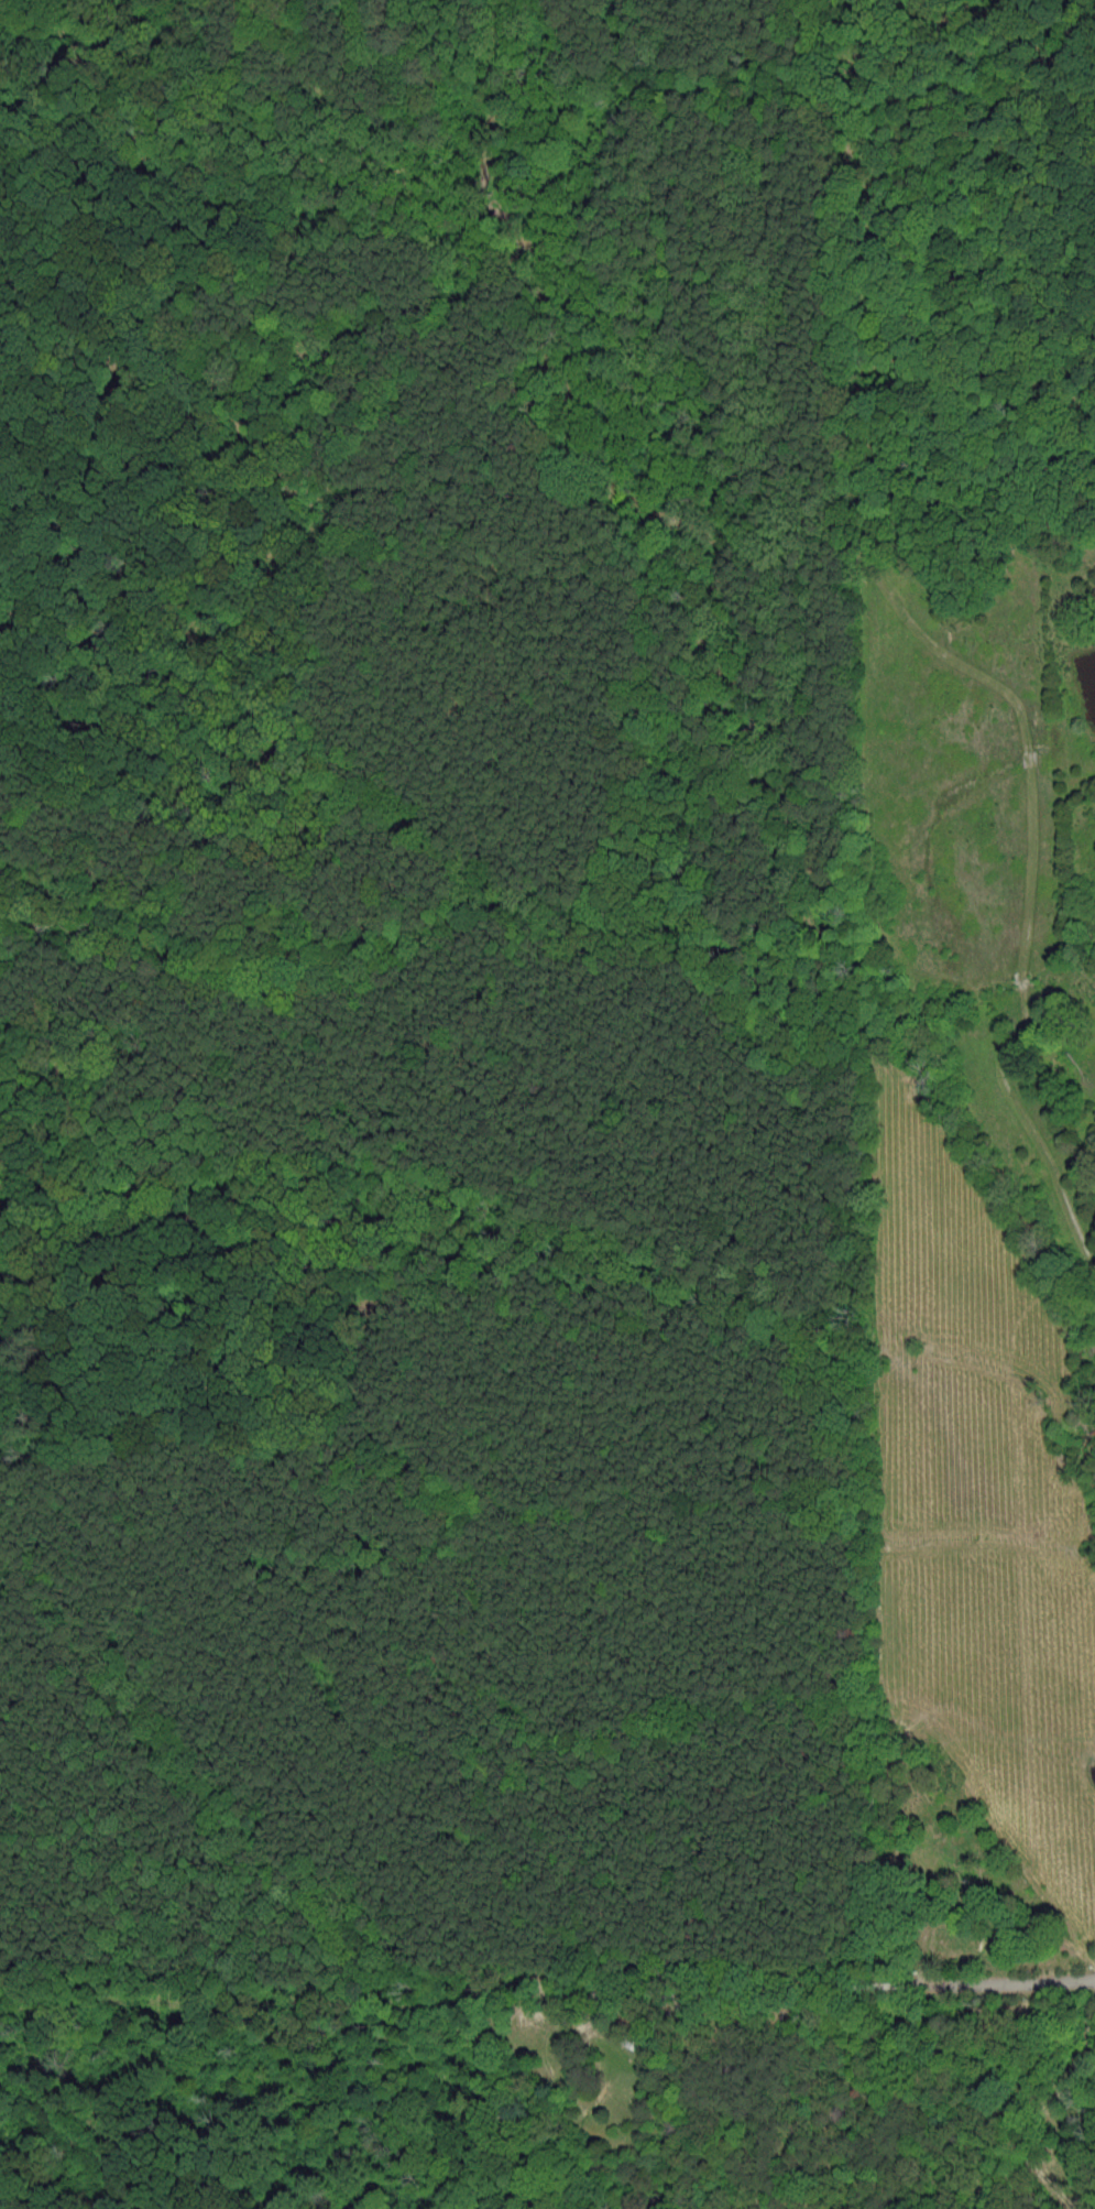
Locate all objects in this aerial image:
road: (1043, 1983)

